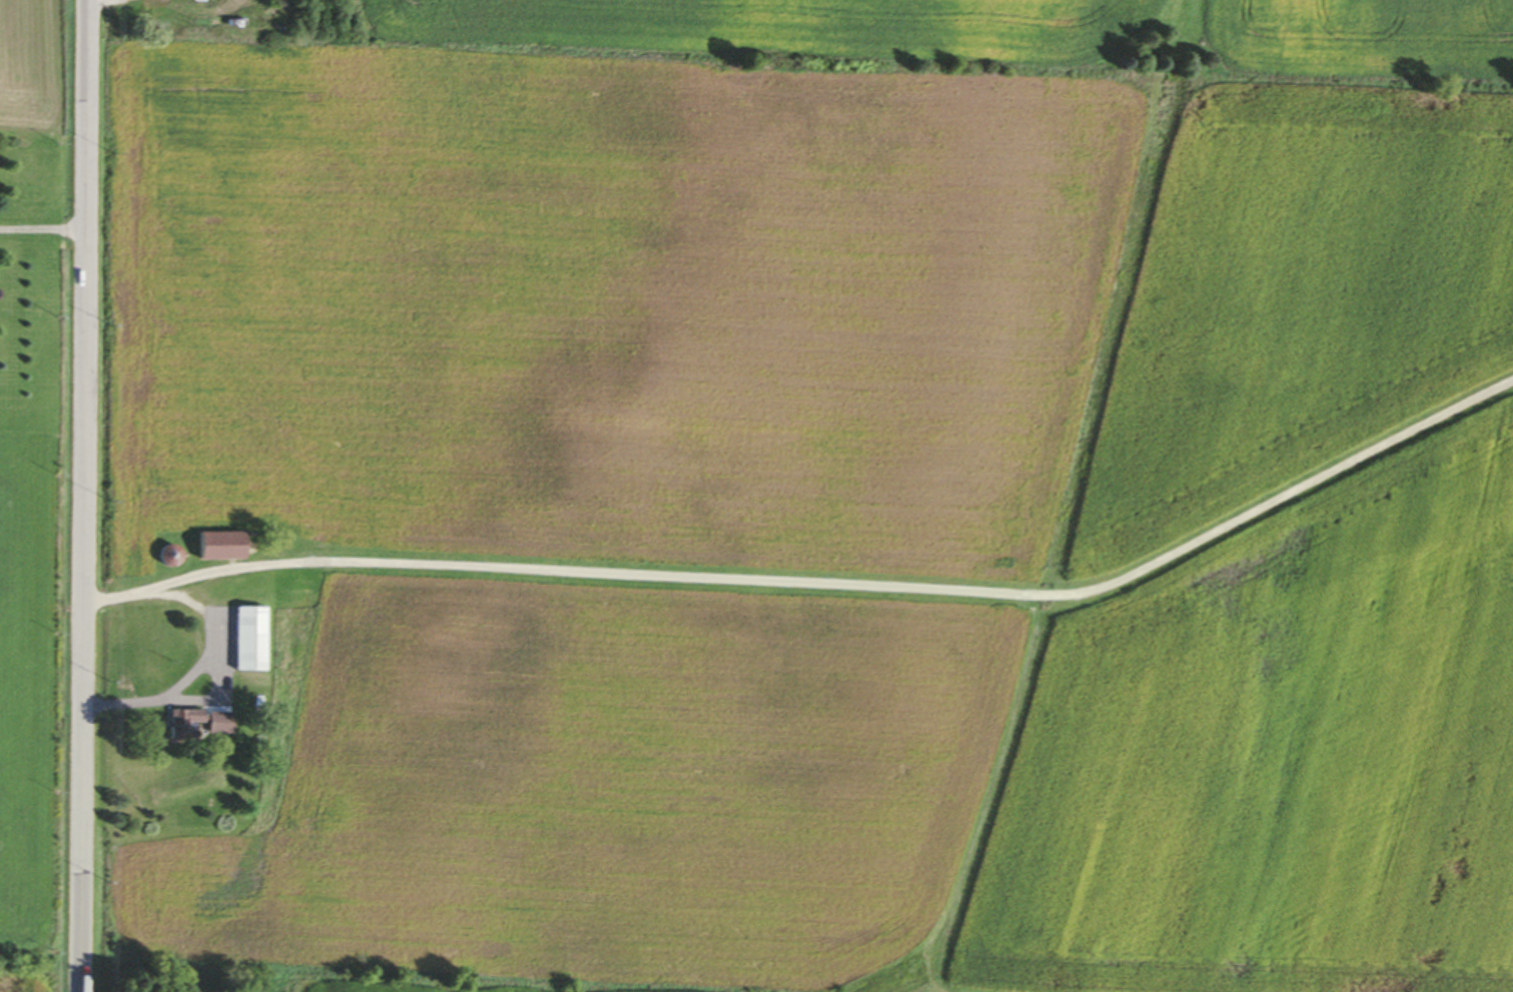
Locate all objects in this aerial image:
road: (44, 229)
road: (86, 495)
building: (212, 544)
road: (844, 584)
building: (243, 637)
road: (207, 643)
building: (198, 719)

